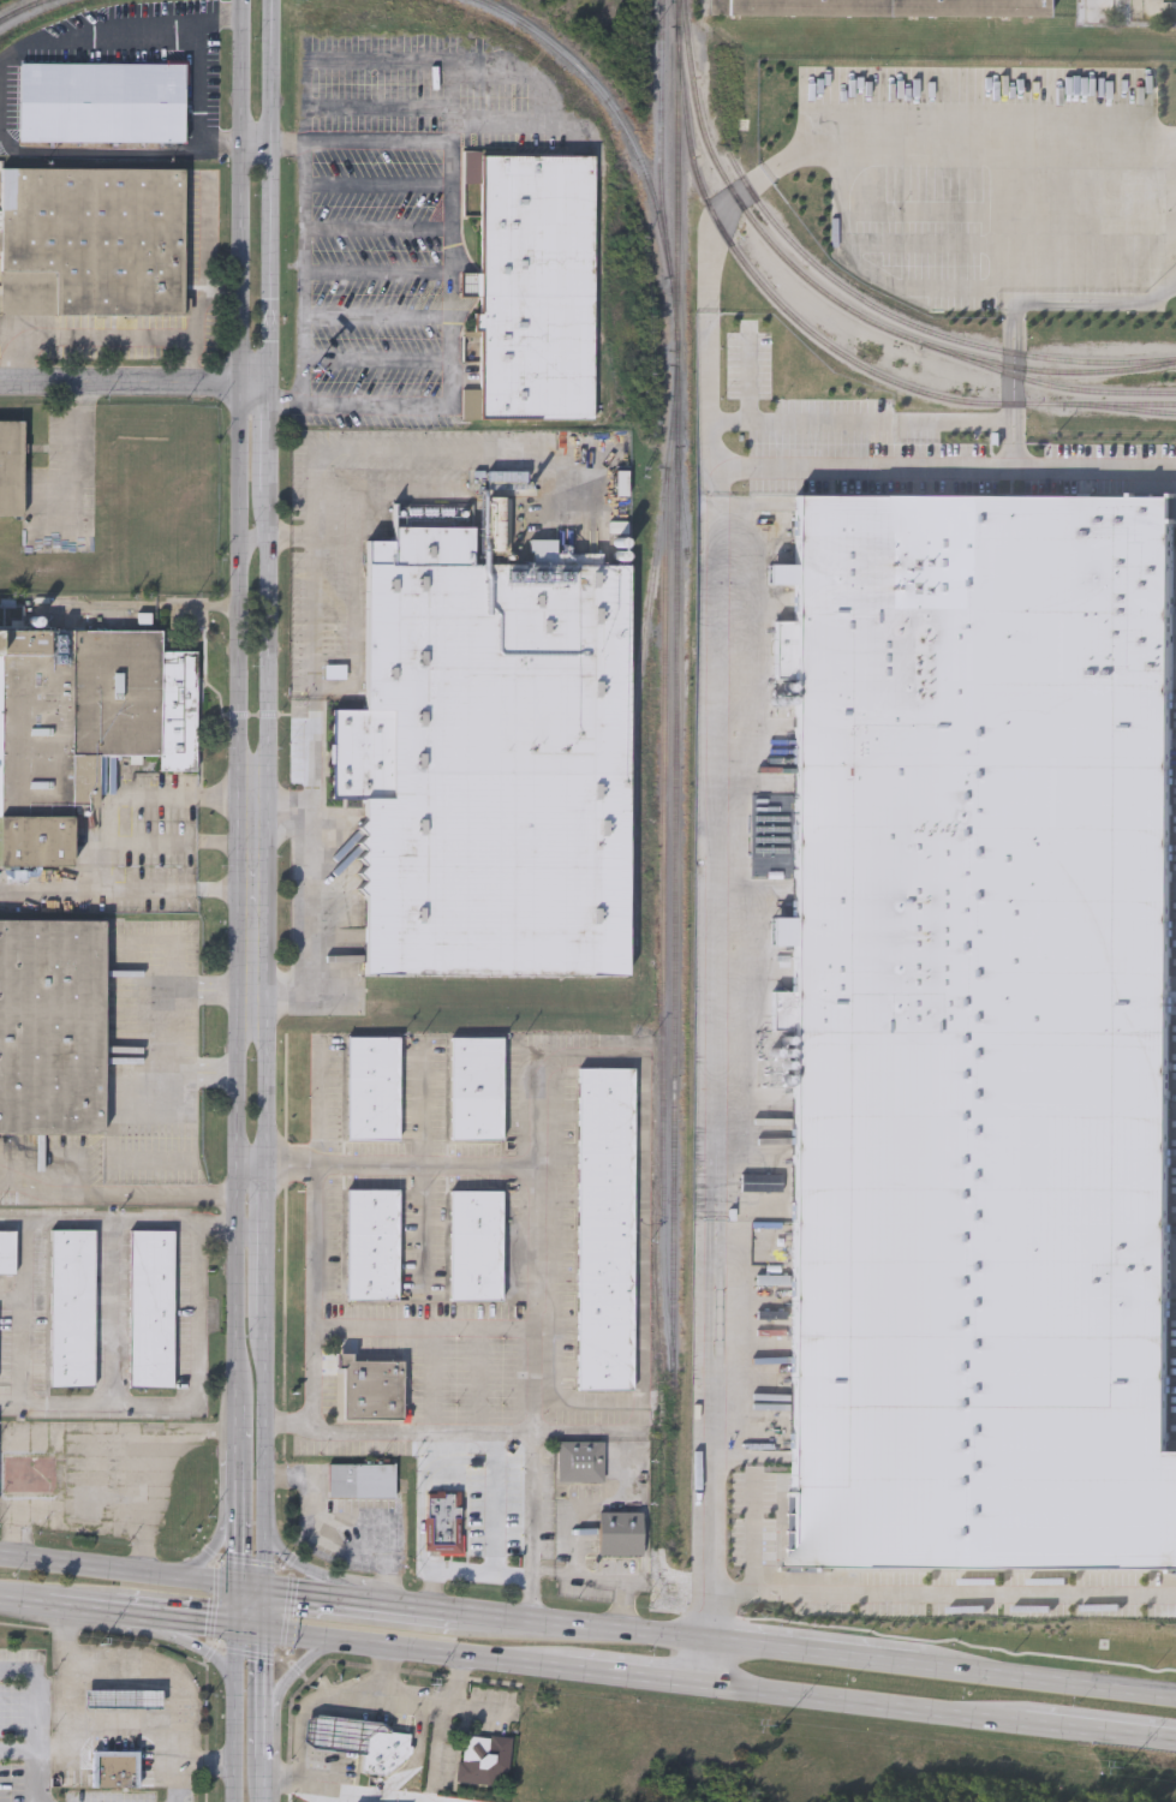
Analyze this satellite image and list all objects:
building: (882, 8)
railway: (20, 10)
road: (95, 41)
road: (536, 73)
road: (198, 82)
road: (305, 85)
building: (101, 100)
railway: (659, 123)
road: (255, 141)
road: (97, 153)
road: (808, 154)
road: (450, 157)
railway: (677, 169)
road: (378, 185)
parking lot: (399, 219)
road: (378, 229)
building: (91, 240)
road: (308, 255)
road: (378, 275)
building: (537, 282)
railway: (765, 286)
railway: (838, 300)
road: (1017, 302)
road: (378, 318)
railway: (915, 323)
railway: (676, 336)
road: (167, 339)
road: (377, 356)
road: (196, 364)
railway: (1058, 368)
road: (119, 386)
road: (253, 389)
road: (286, 404)
road: (401, 404)
railway: (1082, 404)
railway: (1133, 407)
road: (426, 450)
road: (76, 455)
building: (11, 464)
road: (1096, 466)
road: (861, 467)
road: (354, 519)
road: (314, 670)
railway: (640, 670)
road: (235, 703)
building: (84, 720)
building: (489, 757)
road: (160, 795)
road: (265, 815)
road: (136, 843)
road: (231, 845)
road: (50, 889)
road: (115, 890)
road: (231, 891)
railway: (665, 924)
road: (308, 992)
building: (52, 1024)
road: (708, 1028)
building: (986, 1033)
building: (371, 1087)
building: (476, 1087)
road: (318, 1104)
road: (644, 1134)
railway: (673, 1148)
road: (55, 1193)
road: (145, 1193)
road: (13, 1222)
road: (424, 1224)
building: (604, 1227)
road: (213, 1229)
building: (371, 1243)
building: (474, 1245)
building: (7, 1249)
road: (13, 1295)
road: (311, 1296)
building: (73, 1305)
building: (151, 1306)
road: (197, 1317)
road: (426, 1329)
road: (112, 1332)
building: (368, 1388)
road: (538, 1396)
road: (233, 1431)
road: (449, 1431)
building: (579, 1458)
building: (360, 1479)
road: (233, 1496)
road: (82, 1518)
building: (443, 1520)
building: (620, 1532)
road: (217, 1540)
road: (233, 1562)
road: (458, 1564)
road: (309, 1569)
road: (130, 1573)
road: (559, 1575)
traffic signals: (234, 1587)
road: (919, 1591)
traffic signals: (261, 1592)
road: (316, 1599)
road: (19, 1603)
road: (67, 1607)
road: (417, 1610)
road: (114, 1612)
building: (975, 1616)
road: (183, 1621)
traffic signals: (234, 1627)
road: (585, 1627)
traffic signals: (259, 1630)
road: (190, 1640)
road: (399, 1648)
road: (813, 1648)
road: (705, 1659)
road: (259, 1664)
road: (155, 1666)
road: (388, 1670)
road: (288, 1673)
road: (634, 1673)
road: (1046, 1678)
road: (34, 1691)
road: (235, 1694)
building: (125, 1700)
road: (423, 1701)
road: (466, 1703)
road: (864, 1703)
road: (261, 1708)
road: (62, 1716)
road: (446, 1718)
road: (1100, 1731)
road: (261, 1741)
building: (383, 1748)
road: (37, 1754)
building: (483, 1758)
road: (204, 1764)
building: (115, 1767)
road: (291, 1776)
road: (259, 1782)

